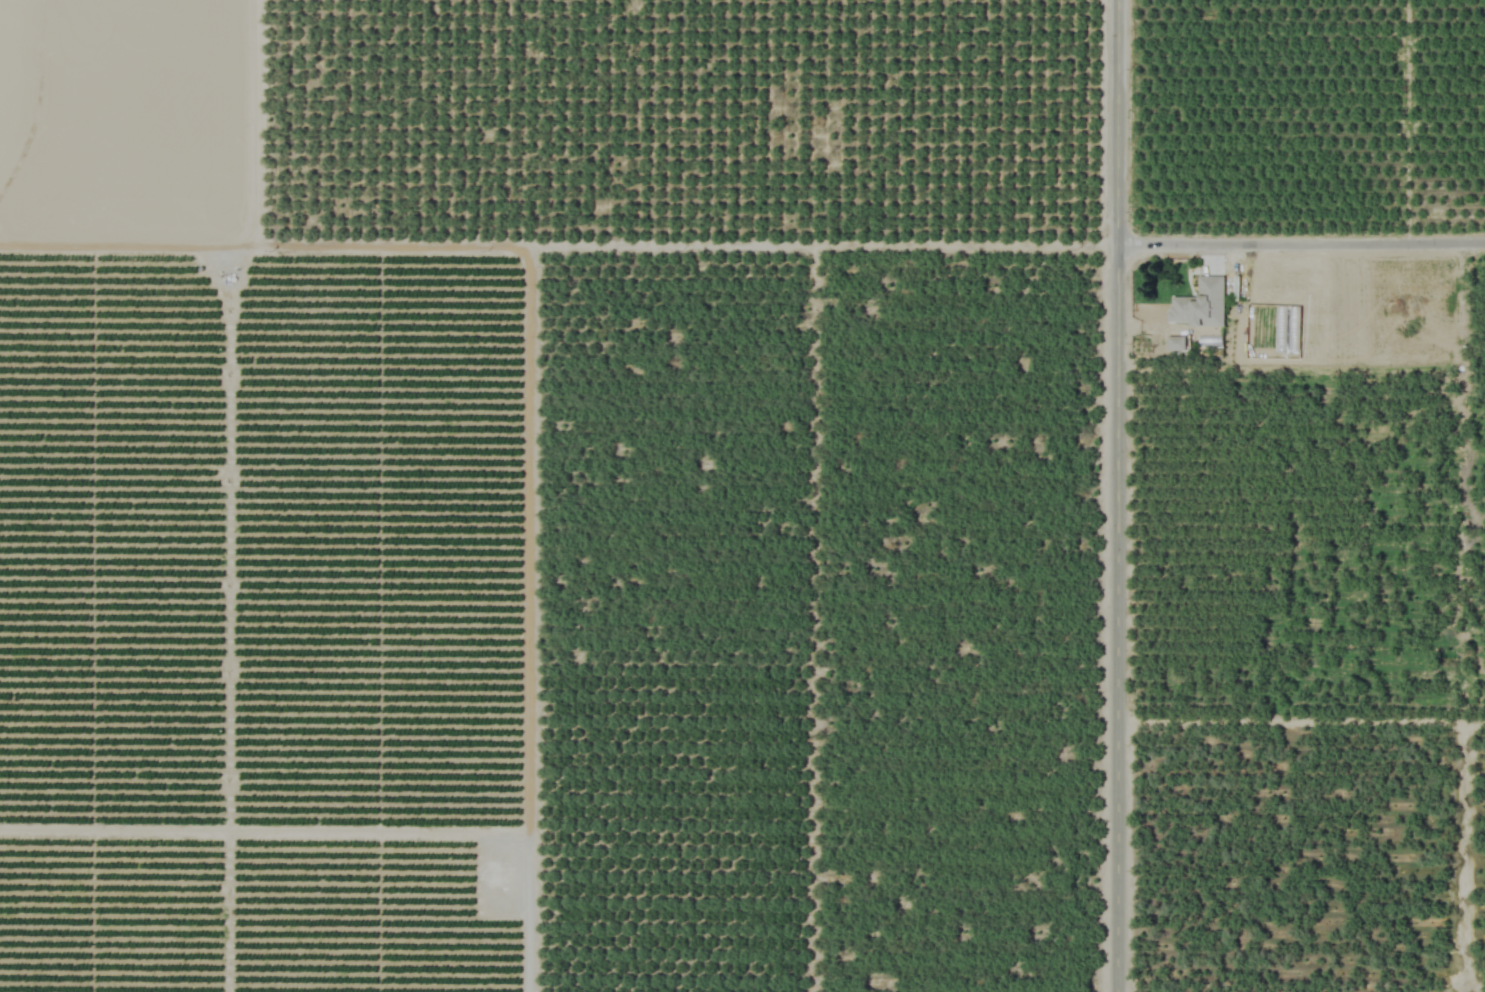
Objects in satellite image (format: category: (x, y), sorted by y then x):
road: (1305, 234)
building: (1199, 304)
building: (1175, 343)
road: (527, 359)
road: (1122, 496)

